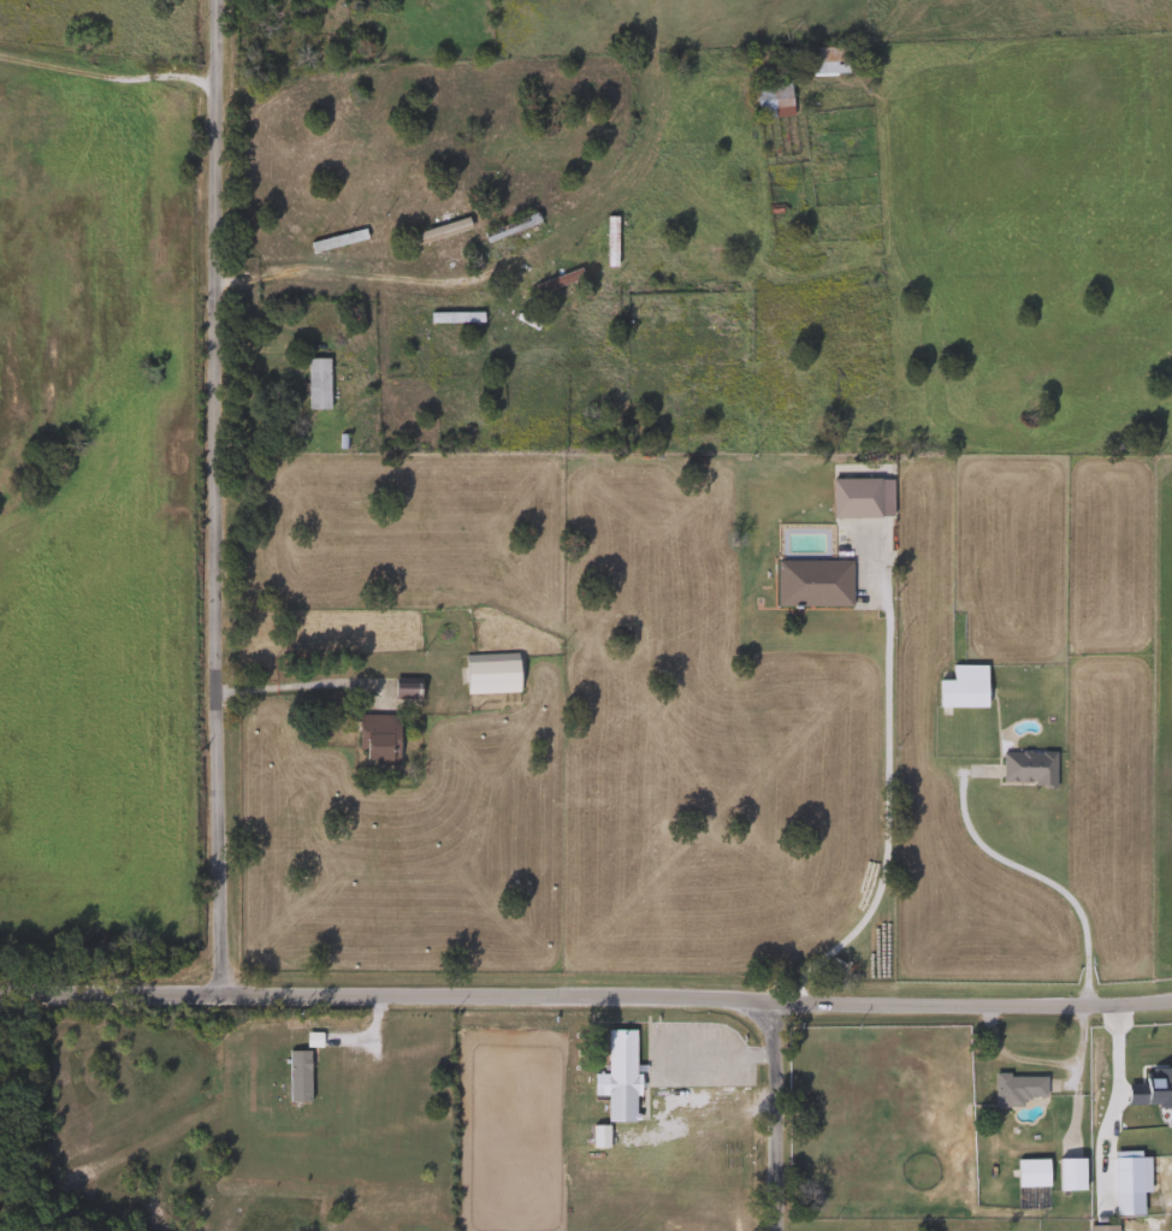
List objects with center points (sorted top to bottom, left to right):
building: (825, 60)
road: (106, 76)
building: (770, 100)
building: (245, 114)
building: (508, 227)
building: (438, 230)
building: (335, 241)
building: (608, 241)
road: (492, 270)
building: (452, 318)
building: (532, 325)
building: (416, 349)
building: (315, 383)
road: (213, 497)
building: (859, 497)
building: (810, 582)
building: (489, 673)
building: (961, 687)
building: (377, 739)
building: (1025, 767)
road: (883, 824)
road: (1046, 877)
road: (586, 999)
road: (700, 1040)
road: (753, 1054)
road: (687, 1065)
building: (296, 1075)
building: (616, 1076)
building: (1014, 1088)
road: (1113, 1090)
road: (769, 1117)
building: (1030, 1173)
building: (1069, 1174)
building: (1099, 1227)

